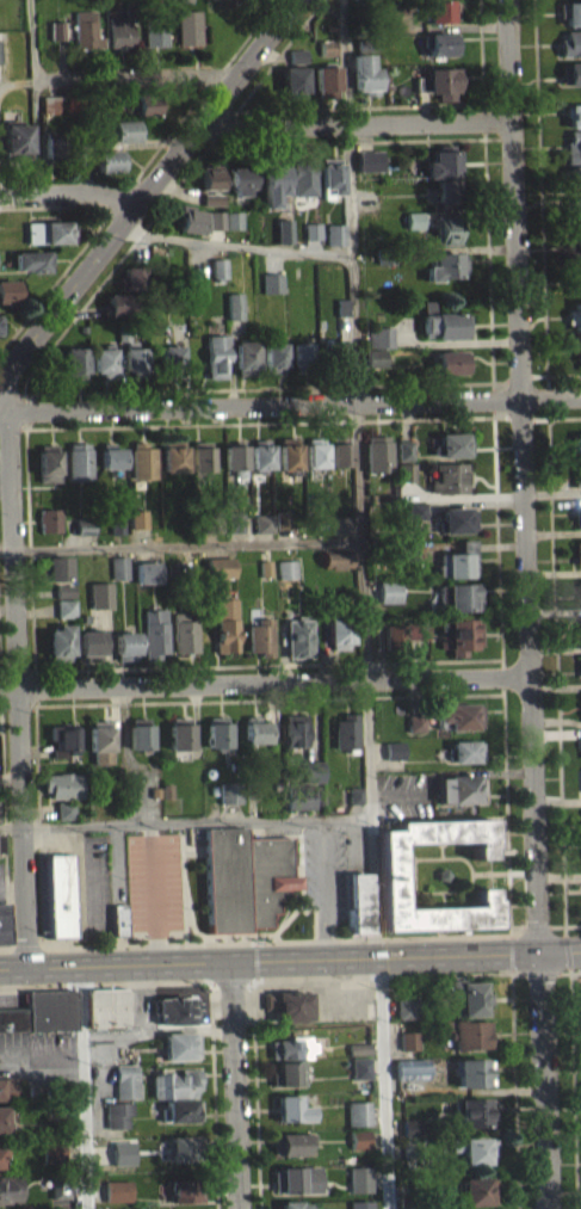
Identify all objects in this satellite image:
building: (424, 0)
building: (184, 4)
building: (360, 4)
building: (440, 10)
building: (571, 11)
building: (119, 25)
building: (153, 25)
building: (187, 25)
building: (54, 27)
building: (84, 27)
building: (55, 38)
building: (439, 41)
building: (570, 41)
building: (365, 42)
building: (326, 44)
road: (31, 49)
building: (441, 51)
building: (296, 54)
road: (57, 56)
building: (570, 70)
building: (364, 72)
road: (146, 75)
building: (326, 76)
building: (292, 79)
building: (443, 79)
road: (17, 80)
building: (570, 81)
building: (48, 101)
building: (142, 103)
road: (359, 106)
building: (573, 112)
building: (146, 117)
road: (354, 123)
building: (124, 128)
building: (13, 138)
road: (429, 138)
road: (279, 142)
building: (573, 142)
building: (51, 144)
building: (107, 158)
building: (369, 158)
building: (443, 161)
building: (109, 167)
building: (574, 172)
road: (136, 173)
building: (332, 173)
building: (274, 174)
building: (303, 174)
building: (241, 175)
building: (210, 177)
road: (539, 187)
building: (447, 189)
road: (148, 190)
road: (486, 190)
building: (366, 192)
road: (74, 193)
road: (0, 196)
building: (212, 198)
road: (55, 204)
building: (211, 206)
building: (573, 208)
building: (414, 217)
building: (190, 218)
building: (216, 218)
building: (233, 218)
building: (234, 227)
building: (413, 228)
building: (446, 228)
building: (45, 229)
building: (284, 229)
building: (336, 232)
road: (235, 245)
building: (573, 248)
building: (384, 253)
building: (29, 258)
building: (444, 263)
building: (218, 266)
building: (30, 269)
building: (131, 276)
building: (574, 278)
building: (272, 282)
building: (7, 288)
building: (117, 303)
building: (234, 304)
building: (341, 306)
building: (574, 311)
building: (441, 320)
building: (122, 331)
building: (379, 335)
building: (0, 337)
building: (576, 346)
building: (332, 353)
building: (216, 354)
building: (245, 356)
building: (273, 356)
building: (302, 356)
building: (373, 356)
building: (104, 359)
building: (134, 359)
building: (171, 359)
building: (449, 359)
building: (75, 360)
building: (375, 365)
road: (563, 374)
road: (27, 380)
road: (508, 380)
road: (13, 390)
road: (290, 402)
road: (26, 411)
road: (550, 417)
road: (259, 420)
building: (452, 443)
building: (576, 443)
building: (404, 449)
building: (340, 450)
building: (316, 451)
building: (289, 452)
building: (378, 452)
building: (261, 454)
building: (111, 455)
building: (173, 455)
building: (202, 456)
building: (235, 456)
building: (404, 457)
building: (79, 459)
building: (143, 459)
building: (48, 462)
building: (406, 470)
building: (575, 474)
building: (450, 476)
road: (359, 477)
building: (416, 508)
building: (576, 516)
building: (138, 517)
building: (283, 517)
building: (50, 518)
building: (415, 518)
building: (456, 518)
building: (211, 519)
building: (235, 520)
building: (264, 522)
building: (117, 524)
building: (342, 524)
building: (85, 525)
building: (138, 526)
building: (84, 533)
road: (29, 544)
road: (187, 544)
road: (7, 547)
building: (407, 550)
building: (576, 550)
building: (336, 559)
building: (406, 559)
building: (458, 561)
building: (220, 566)
building: (55, 567)
building: (119, 567)
building: (265, 567)
building: (288, 568)
building: (336, 568)
building: (147, 570)
building: (64, 590)
building: (389, 591)
building: (100, 593)
building: (458, 596)
road: (527, 604)
building: (64, 606)
building: (64, 616)
building: (225, 624)
building: (415, 628)
building: (154, 630)
building: (184, 631)
building: (338, 631)
building: (458, 634)
building: (260, 635)
building: (298, 636)
building: (391, 636)
building: (58, 641)
road: (501, 642)
building: (88, 643)
building: (125, 644)
road: (268, 664)
building: (579, 664)
road: (17, 670)
road: (556, 676)
road: (264, 680)
road: (17, 689)
road: (268, 698)
building: (458, 715)
building: (415, 722)
building: (255, 728)
building: (293, 728)
building: (414, 730)
building: (180, 732)
building: (217, 732)
building: (346, 732)
building: (140, 733)
building: (63, 738)
building: (100, 739)
building: (580, 739)
building: (394, 750)
building: (461, 751)
building: (313, 770)
road: (10, 776)
building: (62, 783)
building: (251, 788)
building: (459, 789)
building: (154, 790)
building: (167, 790)
building: (229, 790)
building: (354, 792)
parking lot: (403, 795)
building: (299, 796)
road: (4, 808)
building: (64, 808)
road: (37, 816)
building: (64, 818)
road: (185, 821)
road: (500, 832)
road: (441, 849)
road: (299, 858)
road: (468, 862)
parking lot: (330, 865)
building: (390, 865)
road: (414, 871)
building: (245, 877)
road: (78, 878)
parking lot: (154, 880)
parking lot: (1, 881)
parking lot: (91, 886)
road: (184, 887)
road: (322, 887)
road: (12, 888)
road: (462, 889)
road: (153, 892)
road: (414, 892)
road: (435, 892)
building: (58, 894)
building: (358, 901)
road: (508, 902)
road: (502, 905)
building: (119, 918)
road: (285, 919)
road: (503, 919)
building: (2, 923)
road: (564, 924)
road: (185, 925)
road: (518, 925)
road: (536, 925)
road: (273, 940)
road: (6, 946)
road: (25, 946)
road: (567, 949)
road: (511, 954)
road: (290, 957)
road: (255, 960)
road: (569, 968)
road: (360, 969)
road: (568, 971)
road: (538, 973)
road: (383, 974)
road: (229, 980)
road: (106, 983)
road: (304, 983)
road: (191, 991)
building: (465, 997)
parking lot: (11, 999)
parking lot: (342, 1000)
building: (286, 1005)
building: (106, 1006)
building: (406, 1006)
building: (174, 1008)
building: (41, 1011)
building: (441, 1025)
road: (153, 1029)
building: (470, 1035)
road: (111, 1036)
building: (408, 1040)
building: (179, 1045)
parking lot: (35, 1048)
building: (290, 1048)
building: (359, 1048)
road: (41, 1049)
building: (360, 1056)
building: (360, 1067)
building: (410, 1067)
building: (471, 1072)
building: (286, 1073)
building: (125, 1080)
road: (385, 1081)
building: (174, 1082)
road: (234, 1084)
building: (6, 1086)
road: (82, 1086)
road: (514, 1090)
road: (573, 1090)
road: (255, 1093)
road: (212, 1094)
building: (180, 1109)
building: (289, 1109)
building: (472, 1111)
building: (358, 1112)
building: (116, 1114)
building: (2, 1118)
building: (409, 1129)
building: (359, 1139)
building: (290, 1143)
building: (183, 1148)
building: (51, 1149)
building: (474, 1149)
building: (2, 1151)
building: (410, 1151)
building: (122, 1160)
building: (0, 1164)
building: (359, 1178)
building: (296, 1179)
building: (58, 1184)
building: (117, 1190)
building: (185, 1190)
building: (476, 1190)
building: (8, 1192)
building: (57, 1197)
building: (407, 1199)
building: (291, 1204)
building: (360, 1204)

